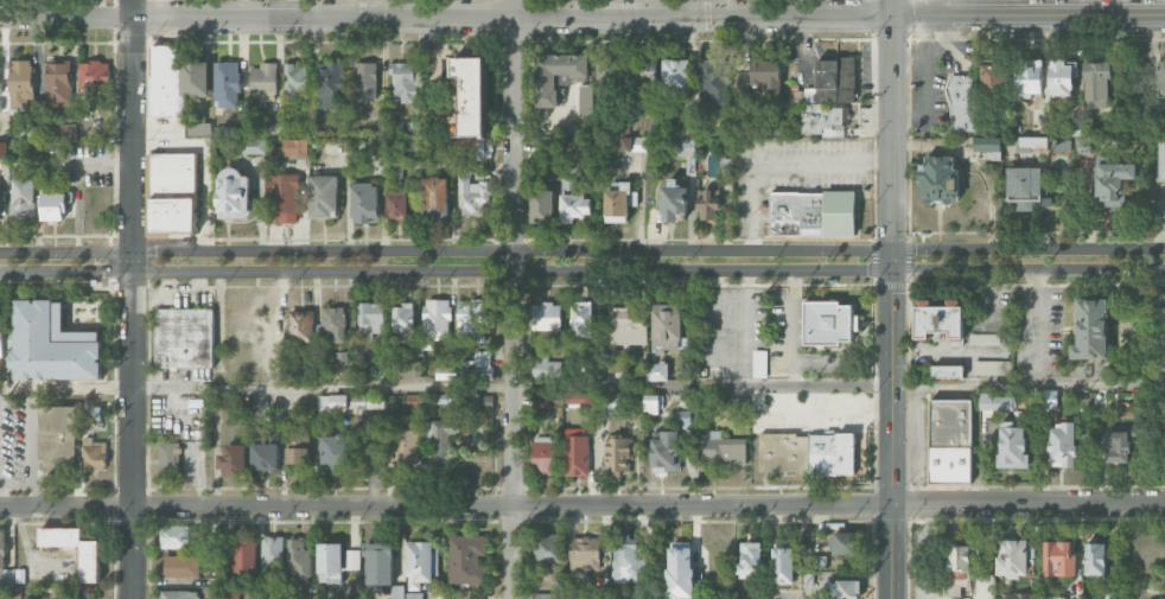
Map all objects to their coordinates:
road: (95, 8)
road: (64, 17)
road: (648, 17)
building: (607, 72)
building: (556, 75)
building: (642, 75)
building: (766, 75)
building: (94, 76)
building: (676, 76)
building: (263, 77)
building: (196, 78)
building: (295, 78)
building: (1061, 78)
building: (1160, 78)
building: (993, 79)
building: (365, 81)
building: (1030, 81)
building: (403, 82)
building: (829, 83)
building: (166, 84)
building: (227, 84)
building: (1096, 84)
building: (58, 85)
building: (331, 85)
building: (713, 85)
building: (21, 87)
building: (0, 93)
building: (471, 95)
building: (961, 103)
building: (823, 120)
building: (272, 125)
building: (454, 127)
building: (772, 127)
building: (198, 129)
building: (628, 144)
building: (987, 145)
building: (253, 146)
building: (295, 147)
building: (4, 149)
building: (573, 151)
road: (208, 159)
road: (783, 161)
building: (1161, 161)
building: (172, 170)
building: (938, 179)
building: (1112, 180)
building: (1024, 186)
building: (233, 193)
building: (472, 196)
building: (323, 197)
building: (435, 197)
building: (282, 198)
building: (23, 199)
building: (673, 200)
building: (365, 203)
building: (617, 204)
building: (708, 204)
building: (55, 206)
building: (542, 206)
building: (399, 208)
building: (575, 209)
building: (813, 214)
building: (172, 215)
road: (1164, 230)
traffic signals: (895, 231)
road: (581, 249)
traffic signals: (916, 249)
traffic signals: (866, 268)
road: (582, 269)
traffic signals: (895, 293)
road: (130, 299)
road: (513, 299)
road: (893, 299)
building: (547, 317)
building: (405, 318)
building: (581, 319)
building: (370, 320)
building: (940, 320)
building: (435, 321)
building: (333, 323)
building: (472, 323)
building: (828, 323)
building: (300, 325)
building: (628, 325)
building: (668, 326)
road: (727, 326)
road: (753, 326)
road: (794, 326)
building: (1157, 329)
building: (1090, 330)
building: (184, 338)
building: (985, 339)
building: (2, 340)
building: (52, 345)
building: (760, 364)
building: (478, 367)
building: (409, 368)
building: (545, 368)
building: (991, 368)
building: (657, 371)
building: (947, 371)
building: (446, 372)
road: (838, 383)
road: (65, 387)
road: (322, 387)
building: (548, 400)
building: (579, 400)
building: (350, 401)
building: (412, 401)
building: (473, 402)
building: (997, 402)
building: (1164, 402)
building: (611, 403)
building: (652, 403)
building: (734, 407)
building: (57, 438)
building: (441, 440)
building: (950, 441)
building: (1062, 445)
building: (1119, 445)
building: (1012, 446)
road: (31, 447)
building: (406, 447)
building: (721, 450)
building: (266, 451)
building: (298, 451)
building: (336, 452)
building: (666, 453)
building: (807, 453)
building: (94, 454)
building: (543, 454)
building: (577, 455)
building: (618, 455)
building: (233, 459)
building: (168, 460)
road: (2, 501)
road: (581, 504)
building: (174, 537)
building: (845, 542)
building: (548, 548)
building: (586, 553)
building: (243, 554)
building: (272, 555)
building: (1012, 557)
building: (466, 559)
building: (1058, 559)
building: (351, 560)
building: (624, 560)
building: (750, 560)
building: (1095, 560)
building: (297, 562)
building: (330, 563)
building: (420, 563)
building: (90, 565)
building: (378, 565)
building: (783, 566)
building: (180, 567)
building: (961, 567)
building: (810, 569)
building: (680, 571)
building: (231, 588)
building: (843, 590)
building: (396, 592)
building: (77, 593)
building: (178, 594)
building: (414, 595)
building: (547, 595)
building: (1013, 595)
building: (476, 598)
building: (1052, 598)

